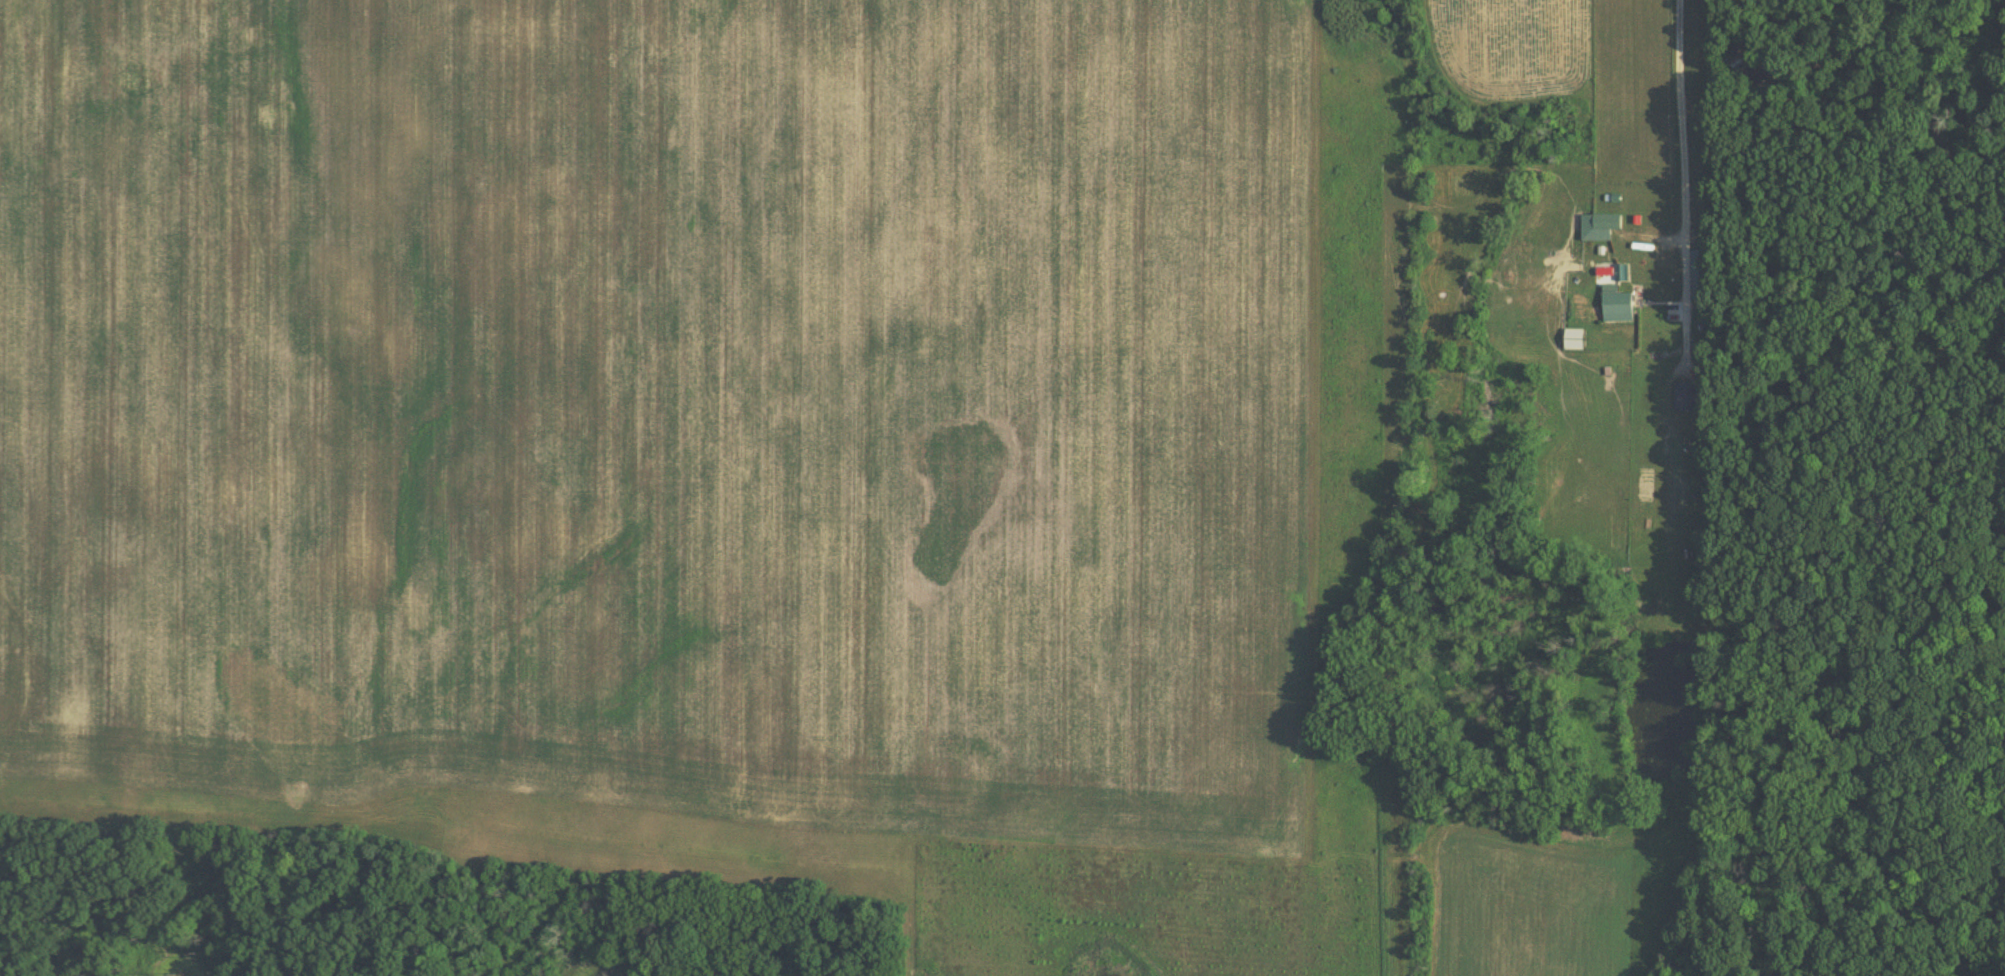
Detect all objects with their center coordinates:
building: (1599, 224)
building: (1616, 302)
building: (1572, 338)

